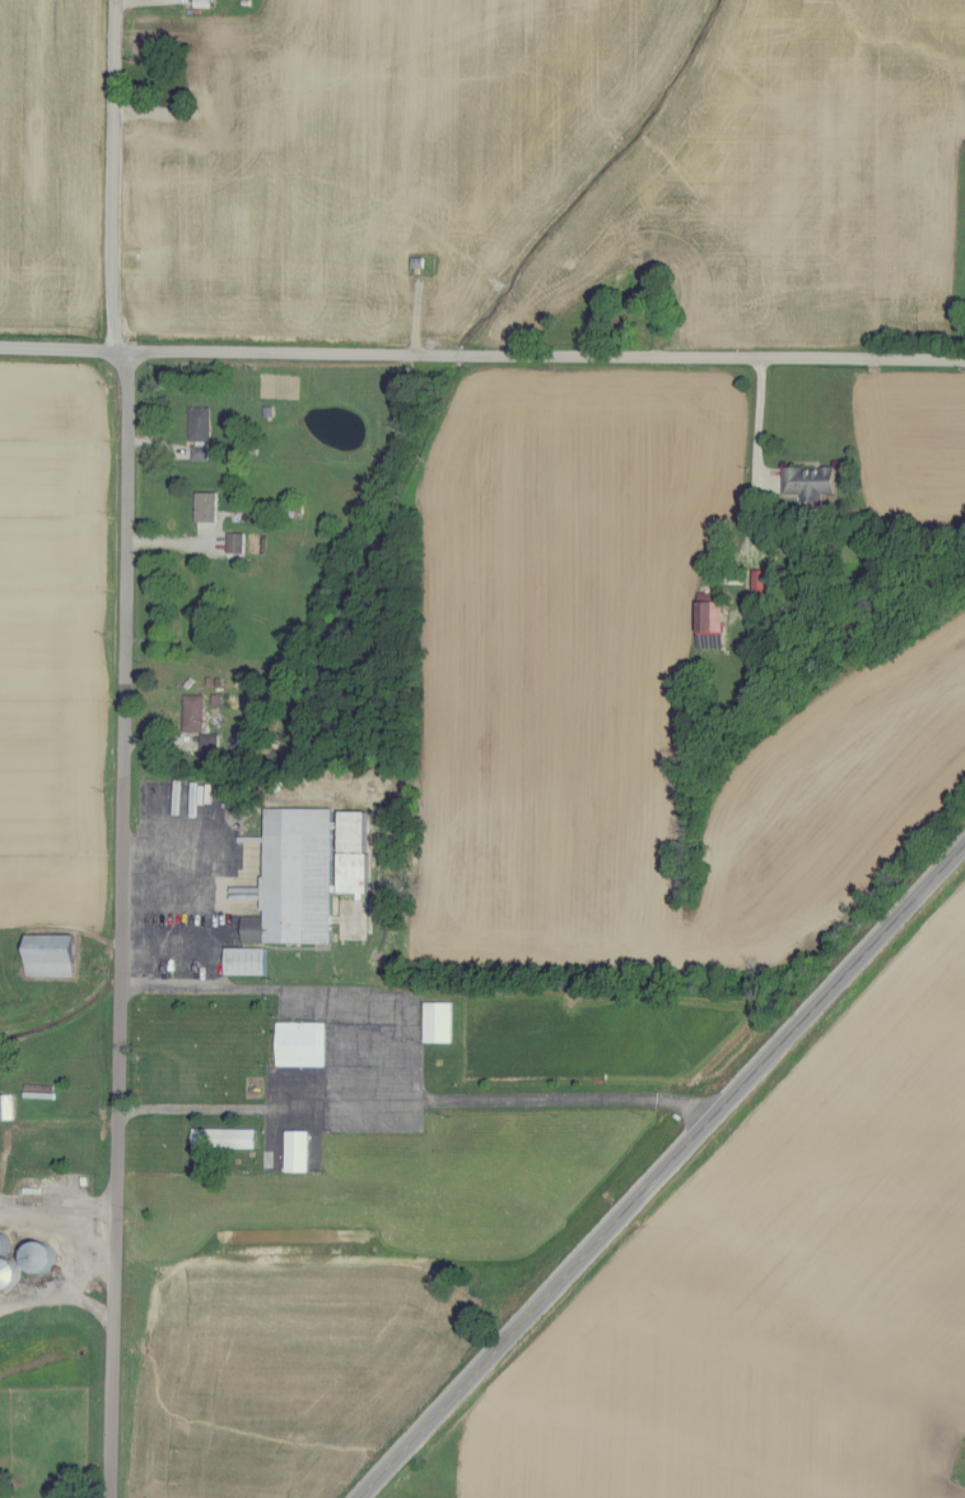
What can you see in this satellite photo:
building: (205, 3)
road: (114, 175)
road: (58, 350)
road: (122, 351)
road: (546, 356)
building: (202, 433)
road: (758, 441)
building: (813, 481)
building: (209, 507)
building: (238, 543)
building: (768, 585)
building: (714, 617)
building: (196, 714)
building: (211, 743)
road: (125, 780)
building: (310, 873)
building: (53, 956)
building: (248, 962)
building: (440, 1023)
building: (303, 1044)
road: (413, 1053)
building: (8, 1106)
road: (38, 1131)
building: (227, 1138)
building: (299, 1150)
road: (661, 1171)
road: (57, 1208)
building: (42, 1257)
building: (10, 1272)
road: (113, 1353)

